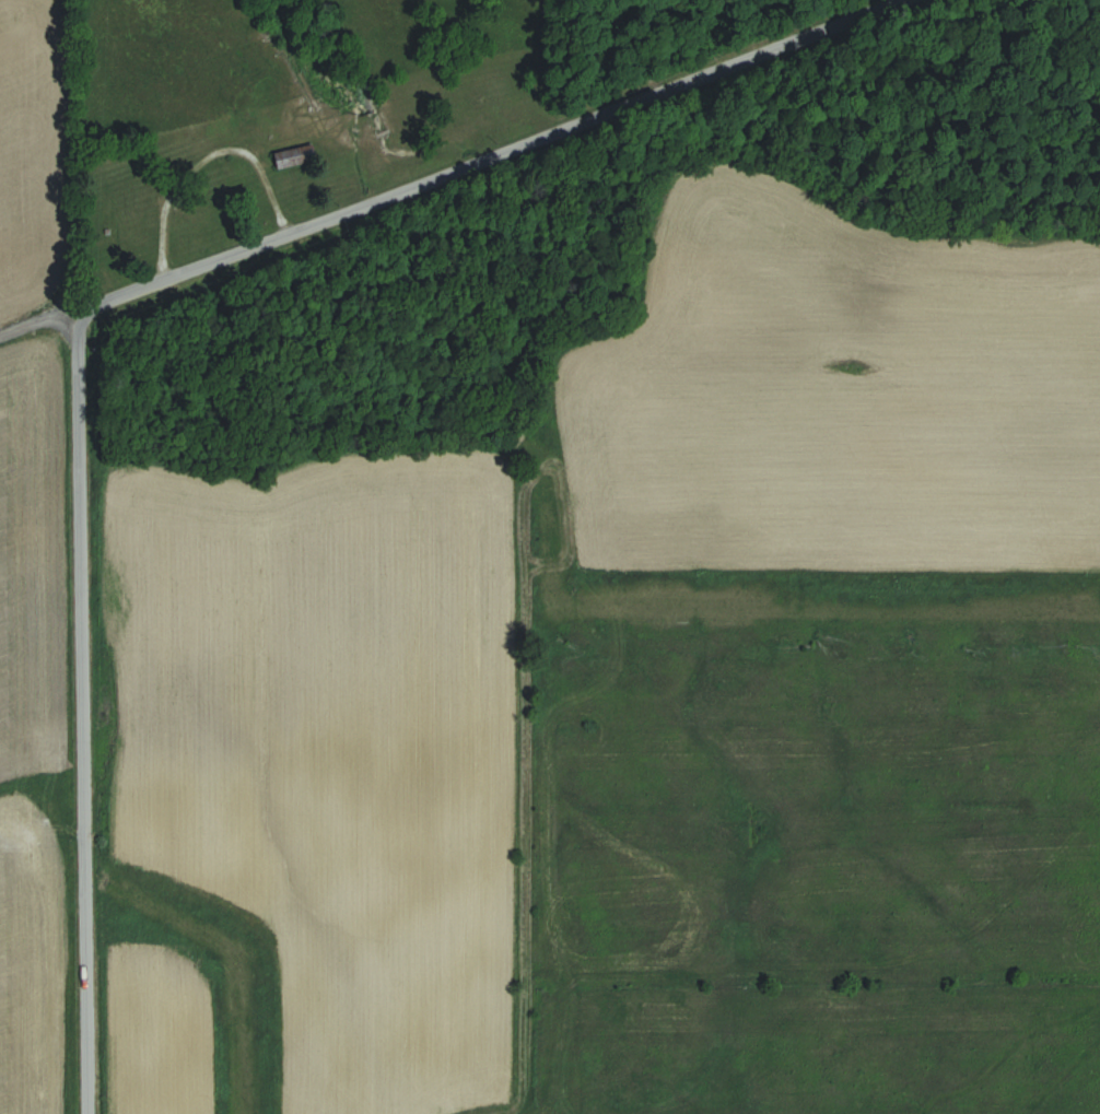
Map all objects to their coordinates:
building: (259, 116)
road: (492, 164)
road: (185, 174)
building: (128, 226)
road: (28, 338)
road: (81, 720)

